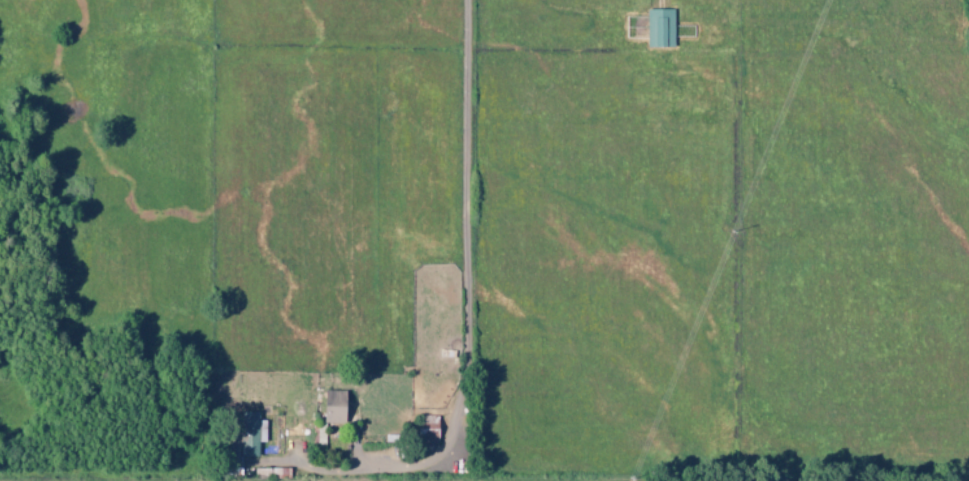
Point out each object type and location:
building: (661, 28)
road: (470, 252)
building: (337, 407)
building: (252, 433)

